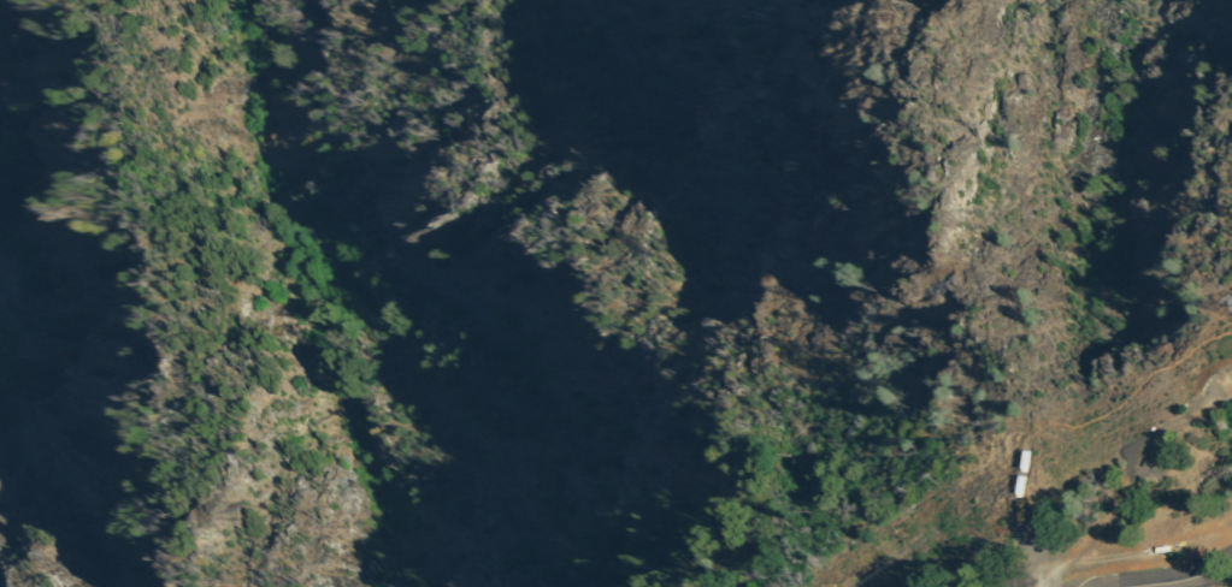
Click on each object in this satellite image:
road: (1131, 470)
road: (1143, 558)
road: (1053, 581)

